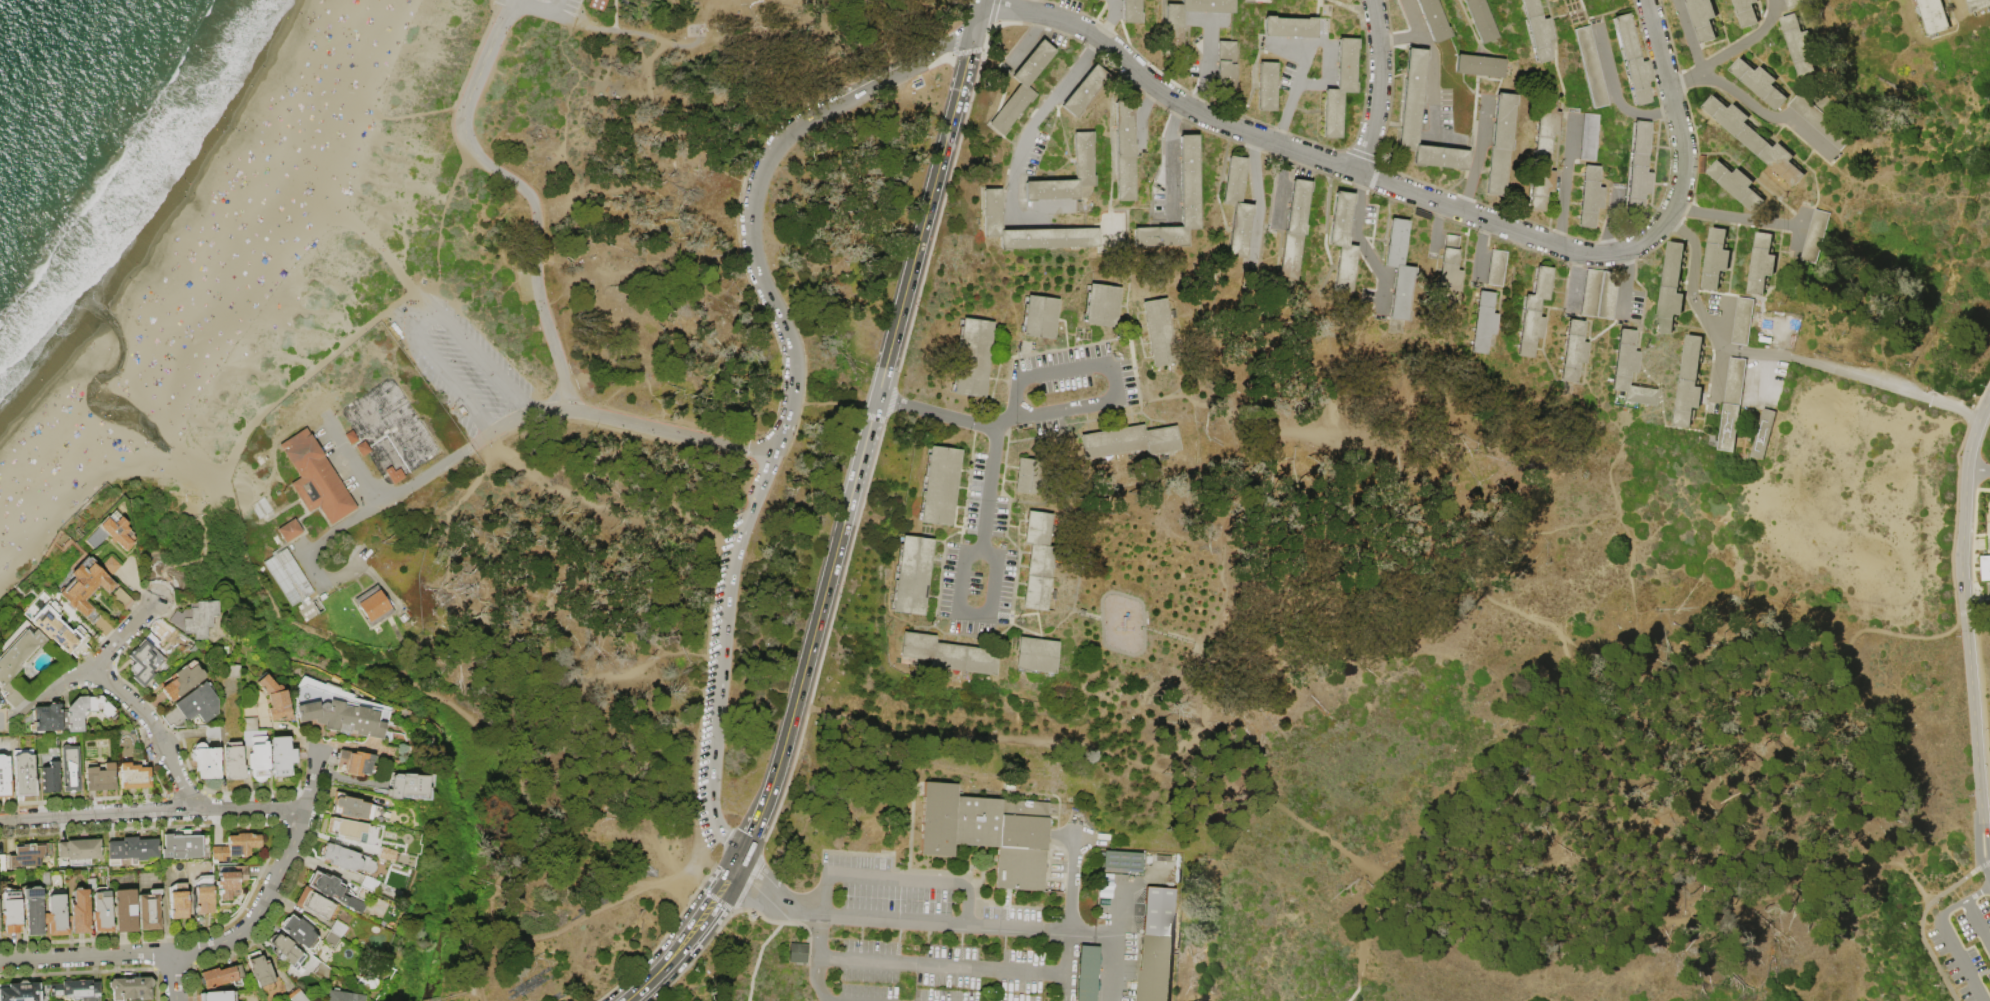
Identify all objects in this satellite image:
road: (1114, 0)
building: (1686, 0)
road: (980, 2)
building: (597, 4)
building: (1794, 4)
building: (1978, 4)
road: (526, 6)
road: (556, 7)
road: (1037, 7)
parking lot: (548, 8)
road: (508, 10)
building: (1132, 12)
building: (1748, 12)
road: (615, 15)
building: (1935, 17)
road: (1219, 19)
building: (1435, 20)
building: (1482, 20)
building: (1704, 20)
road: (976, 21)
building: (1290, 27)
road: (1210, 28)
building: (1174, 29)
building: (1538, 31)
road: (647, 35)
road: (1688, 35)
road: (1400, 40)
road: (1025, 42)
road: (1428, 44)
road: (1327, 46)
building: (1800, 46)
road: (1730, 52)
road: (1305, 53)
road: (813, 60)
building: (1633, 60)
building: (1227, 65)
road: (1078, 66)
building: (1481, 66)
road: (908, 68)
building: (1593, 68)
road: (1301, 73)
road: (1205, 77)
building: (1761, 84)
building: (1267, 86)
road: (1297, 87)
road: (1380, 87)
building: (1022, 88)
building: (1341, 88)
road: (607, 90)
building: (1085, 90)
road: (1614, 92)
road: (1200, 103)
road: (522, 110)
road: (1673, 111)
road: (1431, 113)
road: (417, 114)
road: (1139, 114)
road: (1766, 116)
road: (1284, 118)
building: (1820, 123)
building: (1409, 125)
building: (1738, 126)
building: (1591, 136)
road: (1168, 141)
building: (1501, 144)
road: (1021, 146)
road: (466, 151)
building: (1125, 151)
building: (1544, 152)
road: (1479, 154)
road: (1317, 157)
building: (1784, 164)
building: (1702, 166)
building: (1084, 168)
building: (1638, 168)
road: (1565, 181)
building: (1190, 182)
building: (1737, 185)
road: (1358, 186)
road: (1280, 187)
building: (1591, 197)
road: (532, 200)
road: (1170, 201)
road: (1259, 206)
building: (1238, 208)
road: (1355, 215)
road: (1019, 218)
road: (1738, 220)
road: (1613, 221)
building: (1295, 229)
building: (1030, 230)
building: (1813, 237)
road: (1434, 238)
building: (1343, 242)
road: (378, 245)
road: (1480, 250)
road: (1371, 259)
building: (1717, 260)
road: (1627, 261)
road: (759, 264)
building: (1763, 264)
building: (1498, 268)
building: (1399, 269)
building: (1449, 275)
road: (1575, 283)
road: (416, 288)
building: (1672, 290)
road: (1626, 292)
building: (1600, 294)
road: (1381, 298)
road: (415, 302)
building: (1102, 305)
road: (431, 310)
road: (1724, 310)
building: (1534, 312)
building: (1040, 317)
road: (1704, 317)
building: (1484, 322)
building: (1743, 322)
road: (413, 324)
building: (1160, 333)
road: (1721, 335)
building: (1573, 351)
building: (973, 357)
road: (485, 363)
road: (1110, 370)
building: (1629, 371)
parking lot: (468, 372)
road: (1718, 374)
building: (1691, 383)
road: (454, 384)
parking lot: (1067, 386)
road: (1889, 388)
building: (1732, 405)
road: (1984, 409)
road: (944, 415)
road: (619, 421)
building: (1764, 435)
building: (352, 437)
building: (1130, 441)
road: (863, 448)
building: (364, 449)
road: (347, 450)
road: (1978, 469)
building: (396, 475)
building: (1029, 476)
building: (317, 479)
road: (415, 481)
park: (1130, 484)
building: (940, 486)
road: (988, 487)
parking lot: (983, 503)
road: (1964, 509)
road: (197, 513)
building: (291, 531)
building: (118, 532)
road: (310, 549)
road: (446, 549)
building: (1039, 560)
building: (110, 565)
building: (1985, 569)
building: (913, 575)
building: (290, 576)
parking lot: (975, 588)
road: (162, 590)
building: (87, 592)
road: (1989, 598)
building: (121, 599)
road: (1977, 599)
building: (373, 605)
road: (1502, 606)
road: (971, 617)
building: (196, 618)
building: (60, 630)
road: (124, 634)
building: (18, 652)
building: (949, 655)
road: (723, 656)
building: (1036, 656)
building: (142, 663)
road: (641, 669)
building: (232, 671)
building: (183, 681)
road: (62, 682)
parking lot: (716, 682)
road: (432, 696)
building: (275, 698)
building: (199, 703)
building: (339, 709)
building: (86, 711)
building: (47, 718)
road: (854, 723)
road: (154, 730)
road: (1976, 739)
building: (256, 750)
building: (281, 757)
building: (206, 762)
building: (234, 762)
building: (354, 762)
building: (70, 768)
building: (23, 773)
building: (134, 775)
building: (99, 776)
road: (1510, 777)
building: (4, 778)
building: (49, 778)
road: (1221, 781)
building: (410, 786)
building: (355, 808)
road: (911, 809)
road: (153, 812)
building: (347, 830)
building: (988, 833)
building: (182, 845)
building: (237, 845)
building: (132, 849)
building: (80, 850)
building: (379, 852)
building: (28, 854)
building: (347, 858)
building: (1164, 859)
building: (1150, 860)
building: (1123, 861)
building: (2, 862)
road: (734, 867)
road: (765, 873)
road: (276, 875)
building: (46, 878)
road: (507, 879)
road: (898, 880)
building: (231, 881)
building: (369, 883)
building: (338, 891)
road: (829, 894)
building: (204, 895)
road: (750, 895)
building: (177, 900)
building: (314, 903)
road: (969, 903)
road: (1960, 903)
building: (100, 907)
road: (1073, 907)
building: (34, 909)
building: (149, 909)
road: (1118, 909)
building: (11, 910)
building: (125, 910)
road: (800, 910)
building: (79, 912)
building: (1165, 912)
building: (56, 914)
road: (1679, 916)
road: (595, 917)
road: (1921, 921)
road: (949, 923)
road: (1977, 924)
building: (338, 928)
building: (301, 933)
road: (1094, 934)
road: (824, 935)
parking lot: (934, 938)
building: (331, 939)
road: (681, 945)
parking lot: (1964, 946)
road: (761, 950)
building: (285, 951)
building: (796, 952)
road: (86, 957)
road: (1963, 963)
road: (946, 965)
road: (1115, 968)
building: (1156, 968)
building: (259, 972)
building: (321, 972)
building: (1088, 974)
road: (174, 977)
building: (221, 977)
road: (821, 980)
building: (131, 989)
road: (1358, 989)
building: (78, 990)
building: (21, 992)
building: (217, 996)
building: (296, 996)
building: (343, 997)

